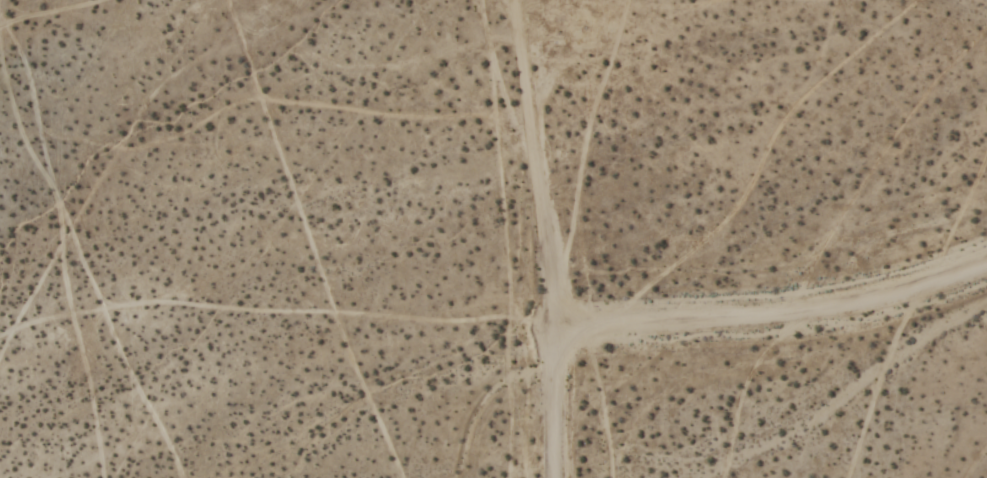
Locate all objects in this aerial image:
road: (545, 222)
road: (772, 318)
road: (551, 405)

